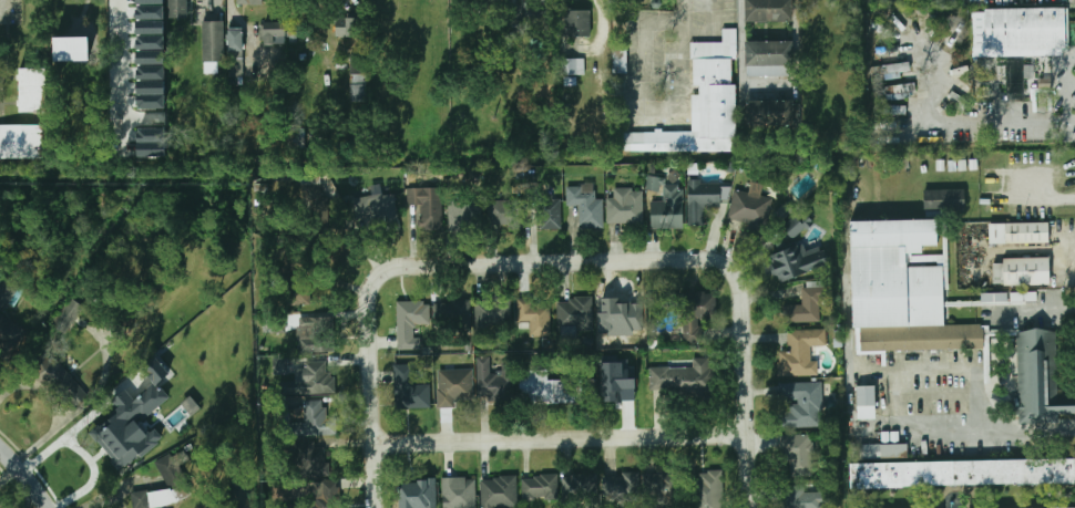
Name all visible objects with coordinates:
building: (249, 2)
building: (480, 2)
building: (951, 2)
building: (176, 9)
building: (393, 9)
road: (4, 11)
building: (769, 11)
building: (512, 15)
building: (577, 23)
building: (150, 24)
building: (1028, 25)
building: (348, 27)
building: (272, 31)
road: (717, 33)
building: (291, 37)
building: (213, 41)
road: (739, 41)
road: (797, 42)
building: (235, 43)
building: (69, 49)
building: (768, 54)
road: (121, 58)
road: (686, 59)
building: (576, 68)
building: (898, 68)
road: (646, 69)
building: (358, 70)
building: (1016, 76)
building: (151, 80)
road: (767, 85)
building: (30, 90)
building: (894, 90)
road: (1063, 96)
building: (703, 105)
building: (892, 110)
building: (771, 112)
road: (969, 122)
building: (21, 142)
building: (151, 142)
building: (654, 184)
building: (310, 185)
building: (704, 198)
building: (313, 200)
building: (945, 200)
building: (428, 205)
building: (587, 207)
building: (377, 208)
building: (626, 208)
building: (668, 208)
building: (750, 208)
building: (786, 210)
building: (501, 212)
building: (550, 215)
building: (459, 216)
building: (796, 226)
building: (1027, 232)
building: (795, 261)
road: (559, 262)
building: (1027, 271)
building: (296, 288)
building: (901, 291)
building: (7, 294)
building: (994, 298)
building: (806, 308)
building: (686, 311)
building: (492, 312)
building: (533, 313)
building: (576, 314)
building: (66, 315)
building: (453, 315)
building: (620, 317)
building: (407, 324)
building: (316, 335)
building: (801, 355)
building: (281, 365)
building: (689, 376)
building: (1041, 376)
building: (495, 377)
building: (59, 379)
building: (310, 380)
building: (615, 384)
building: (454, 386)
building: (549, 387)
building: (410, 388)
building: (866, 403)
building: (802, 405)
road: (55, 407)
building: (133, 421)
building: (305, 421)
road: (991, 431)
road: (560, 440)
building: (881, 450)
building: (799, 454)
road: (85, 456)
building: (309, 459)
road: (27, 474)
building: (955, 475)
building: (622, 486)
building: (540, 487)
building: (583, 487)
building: (661, 487)
building: (709, 490)
building: (417, 491)
building: (500, 491)
building: (459, 493)
building: (311, 496)
building: (157, 498)
building: (800, 498)

